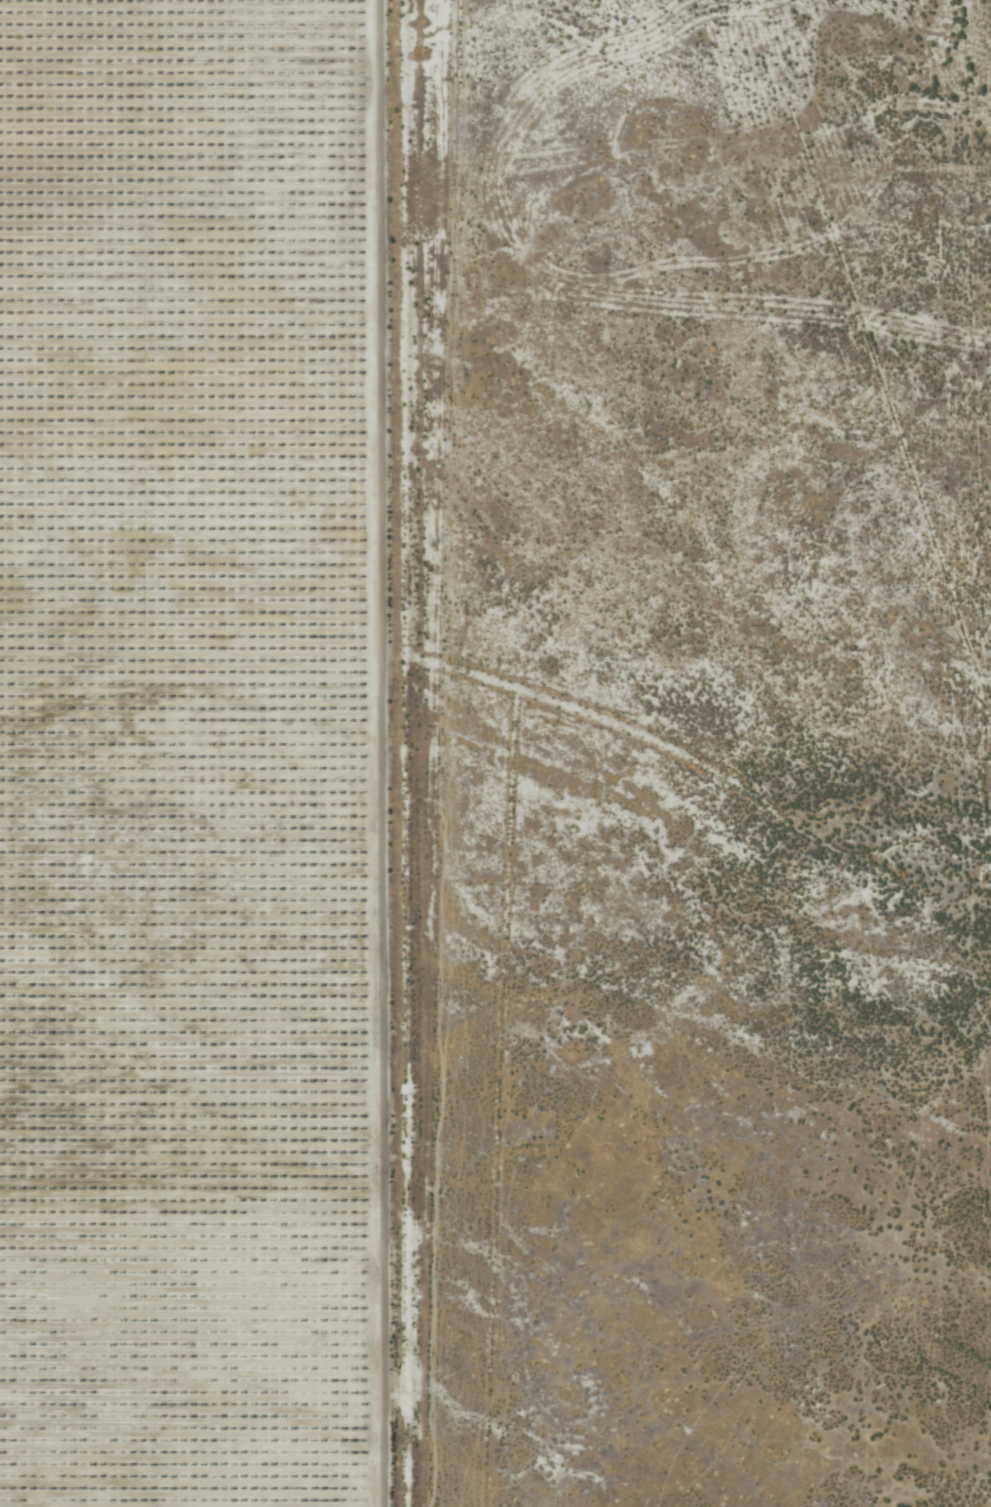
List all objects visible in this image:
crop: (179, 349)

